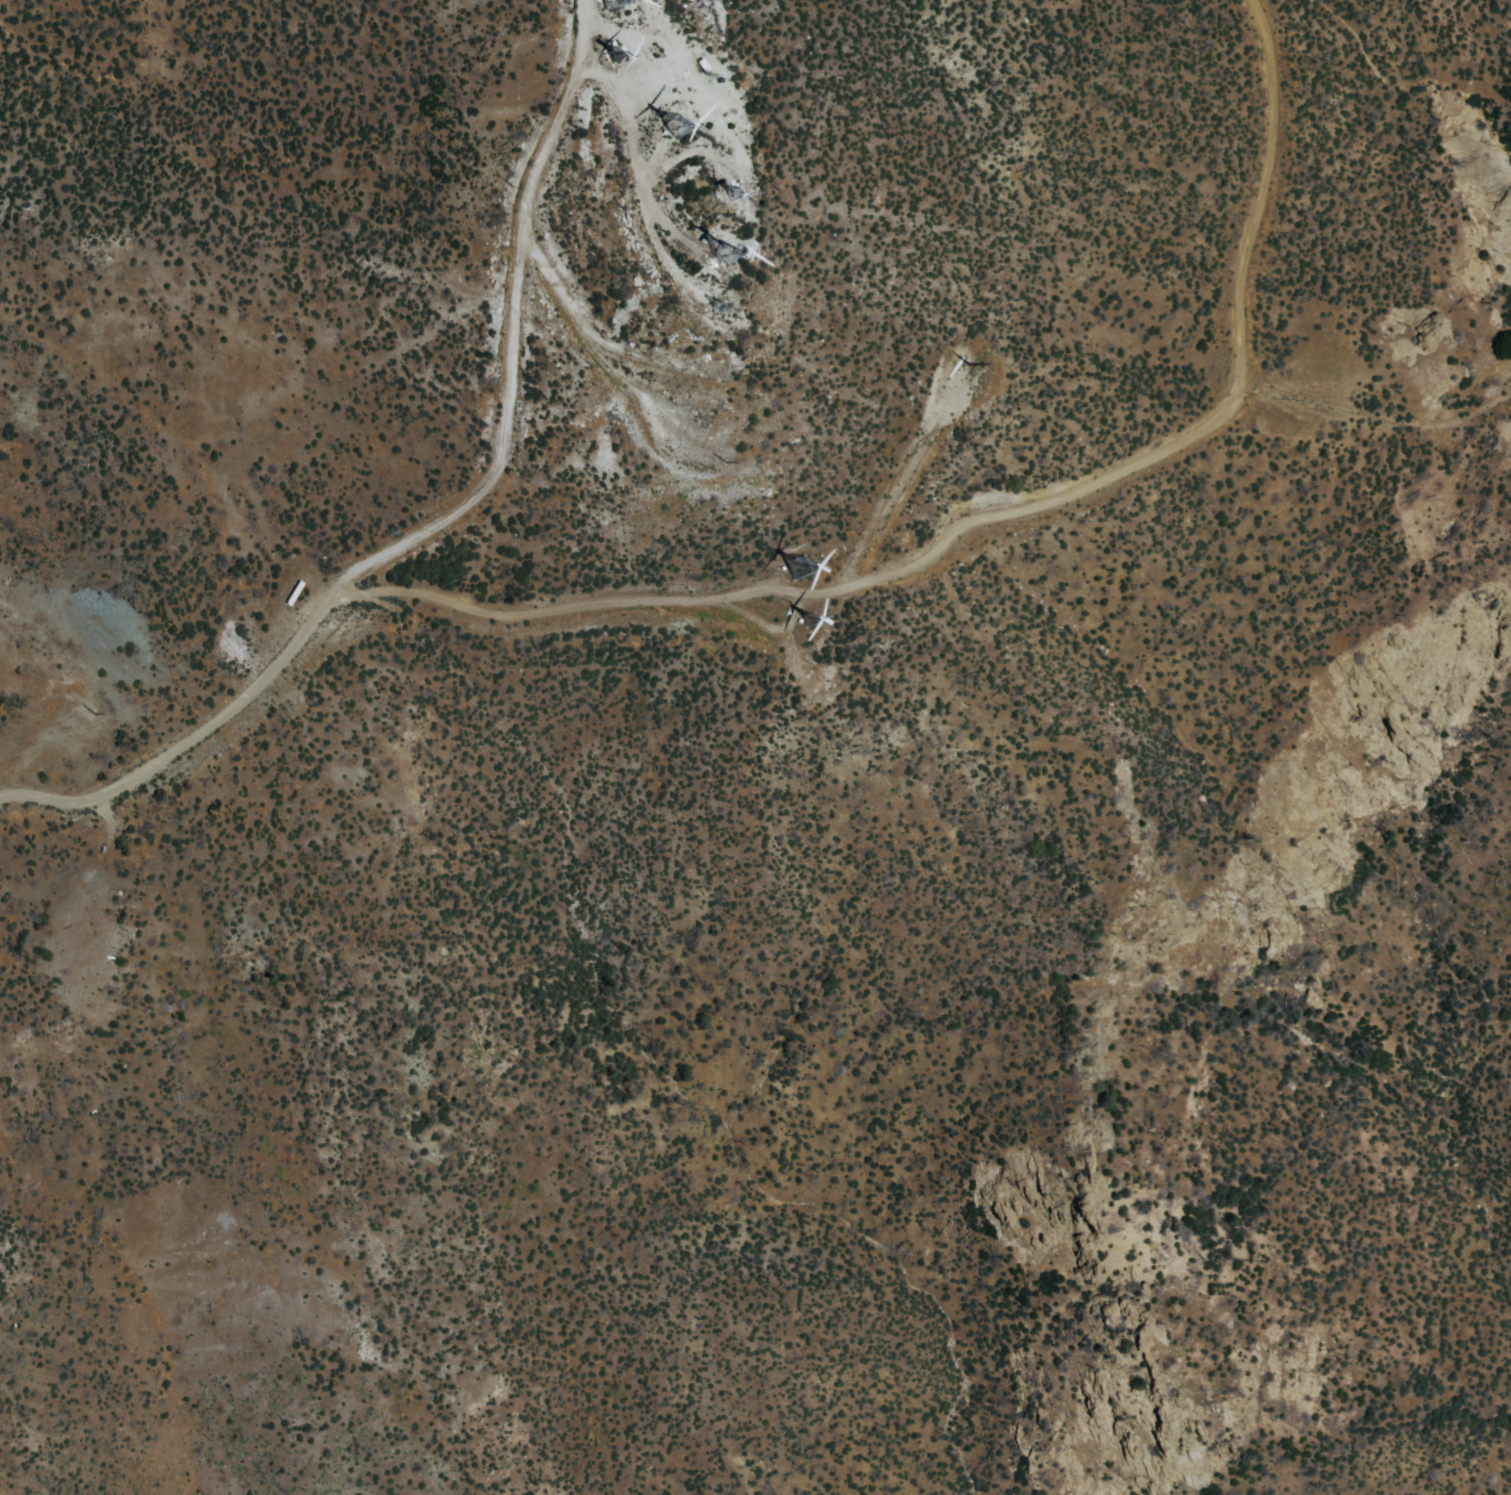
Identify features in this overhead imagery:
wind turbine: (617, 57)
wind turbine: (682, 129)
wind turbine: (720, 198)
wind turbine: (728, 253)
wind turbine: (724, 311)
road: (526, 328)
wind turbine: (707, 367)
wind turbine: (699, 417)
road: (993, 507)
wind turbine: (805, 569)
wind turbine: (808, 621)
wind turbine: (828, 687)
road: (196, 734)

